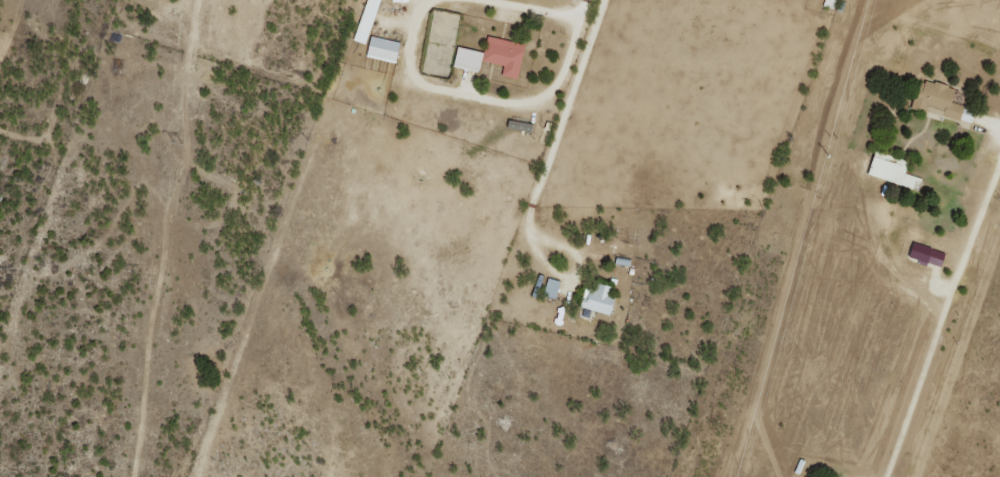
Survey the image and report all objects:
building: (829, 3)
building: (366, 20)
building: (383, 48)
building: (492, 56)
building: (940, 101)
road: (989, 124)
power tower: (829, 137)
power tower: (182, 142)
building: (891, 172)
building: (925, 254)
building: (547, 285)
building: (599, 298)

